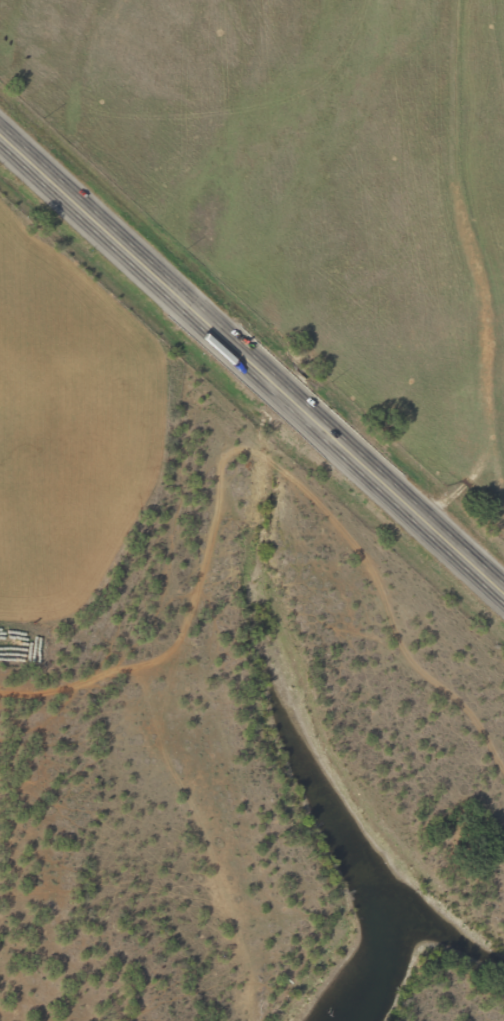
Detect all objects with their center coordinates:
road: (251, 371)

